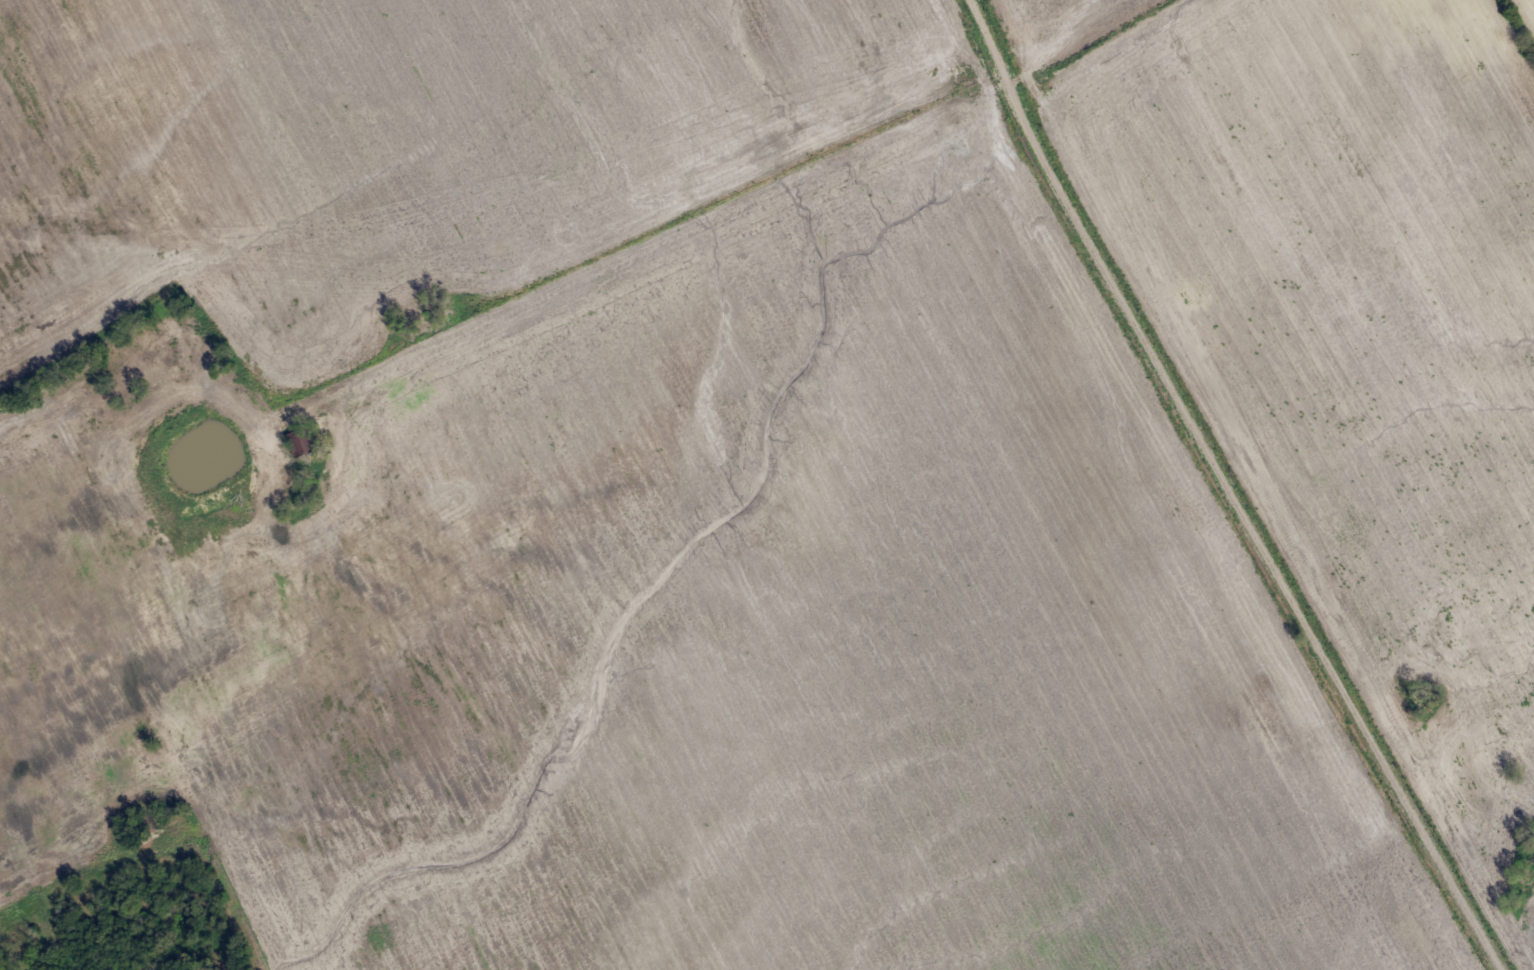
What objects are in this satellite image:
building: (298, 442)
road: (1231, 488)

